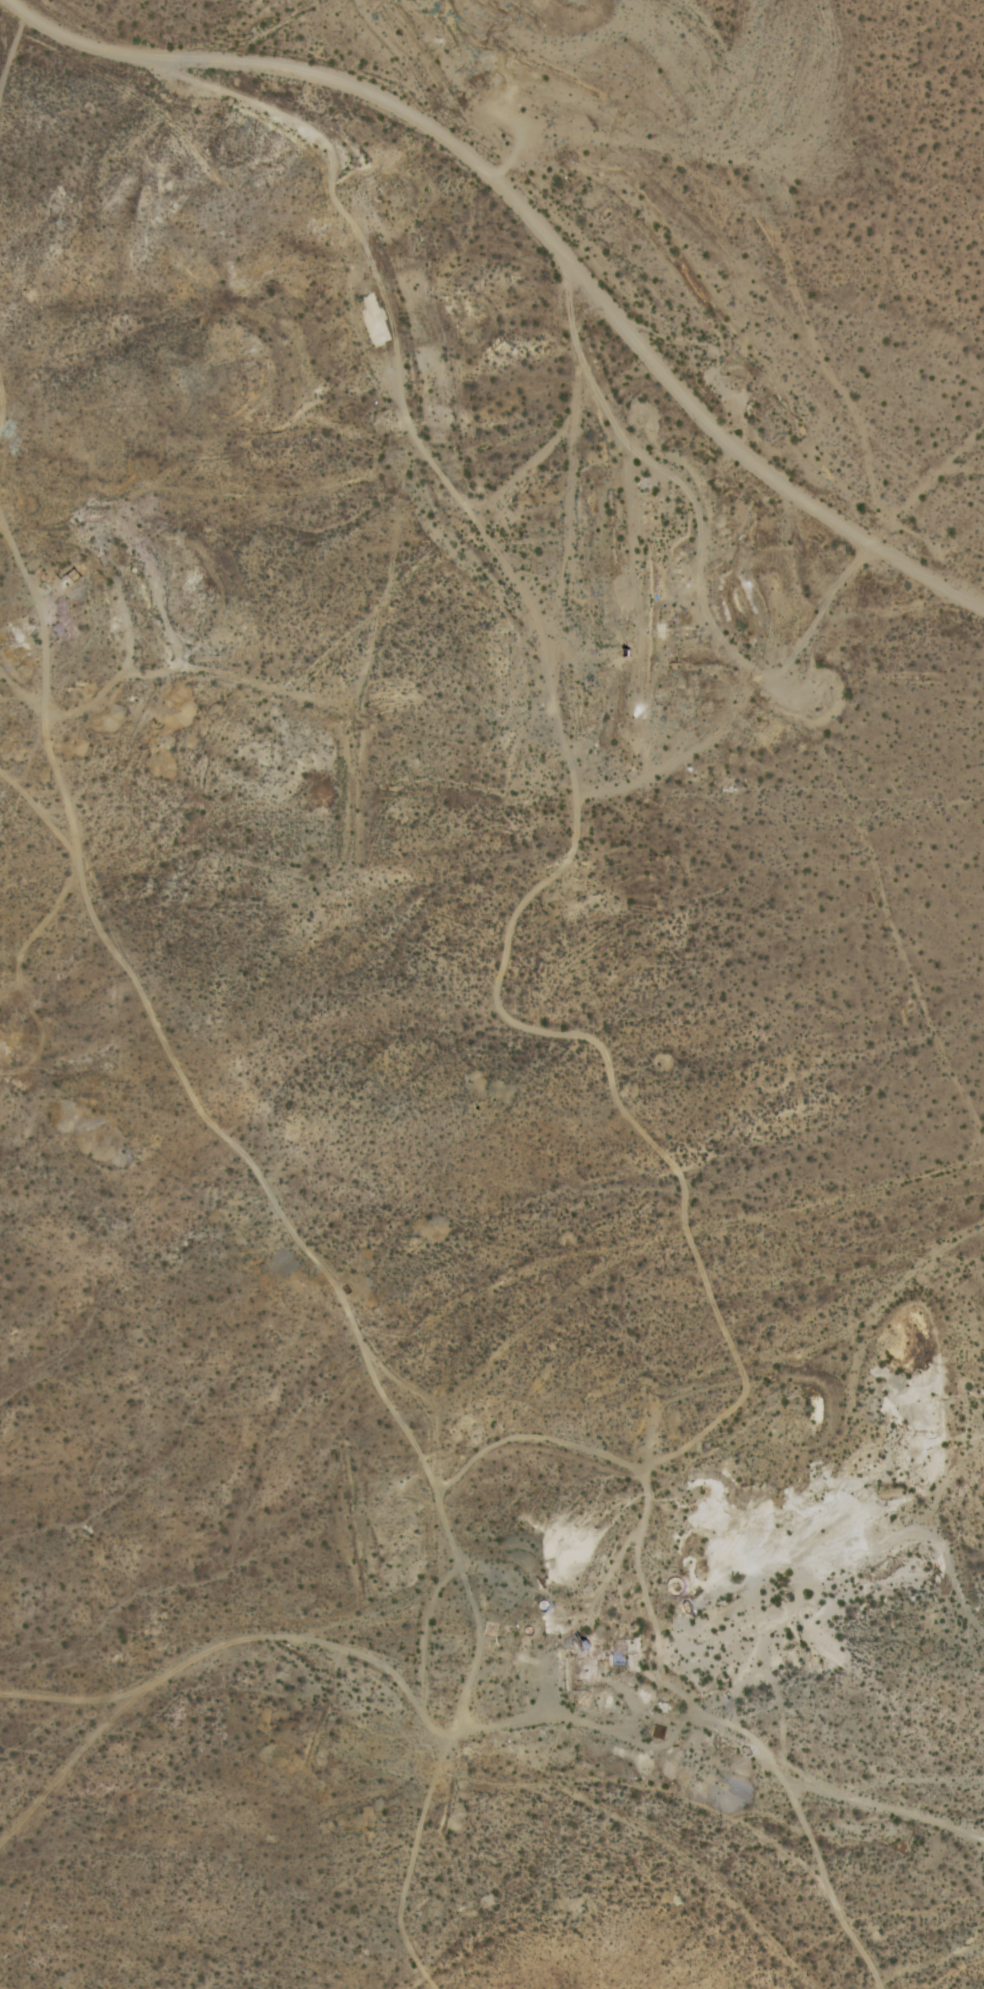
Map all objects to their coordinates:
road: (527, 235)

